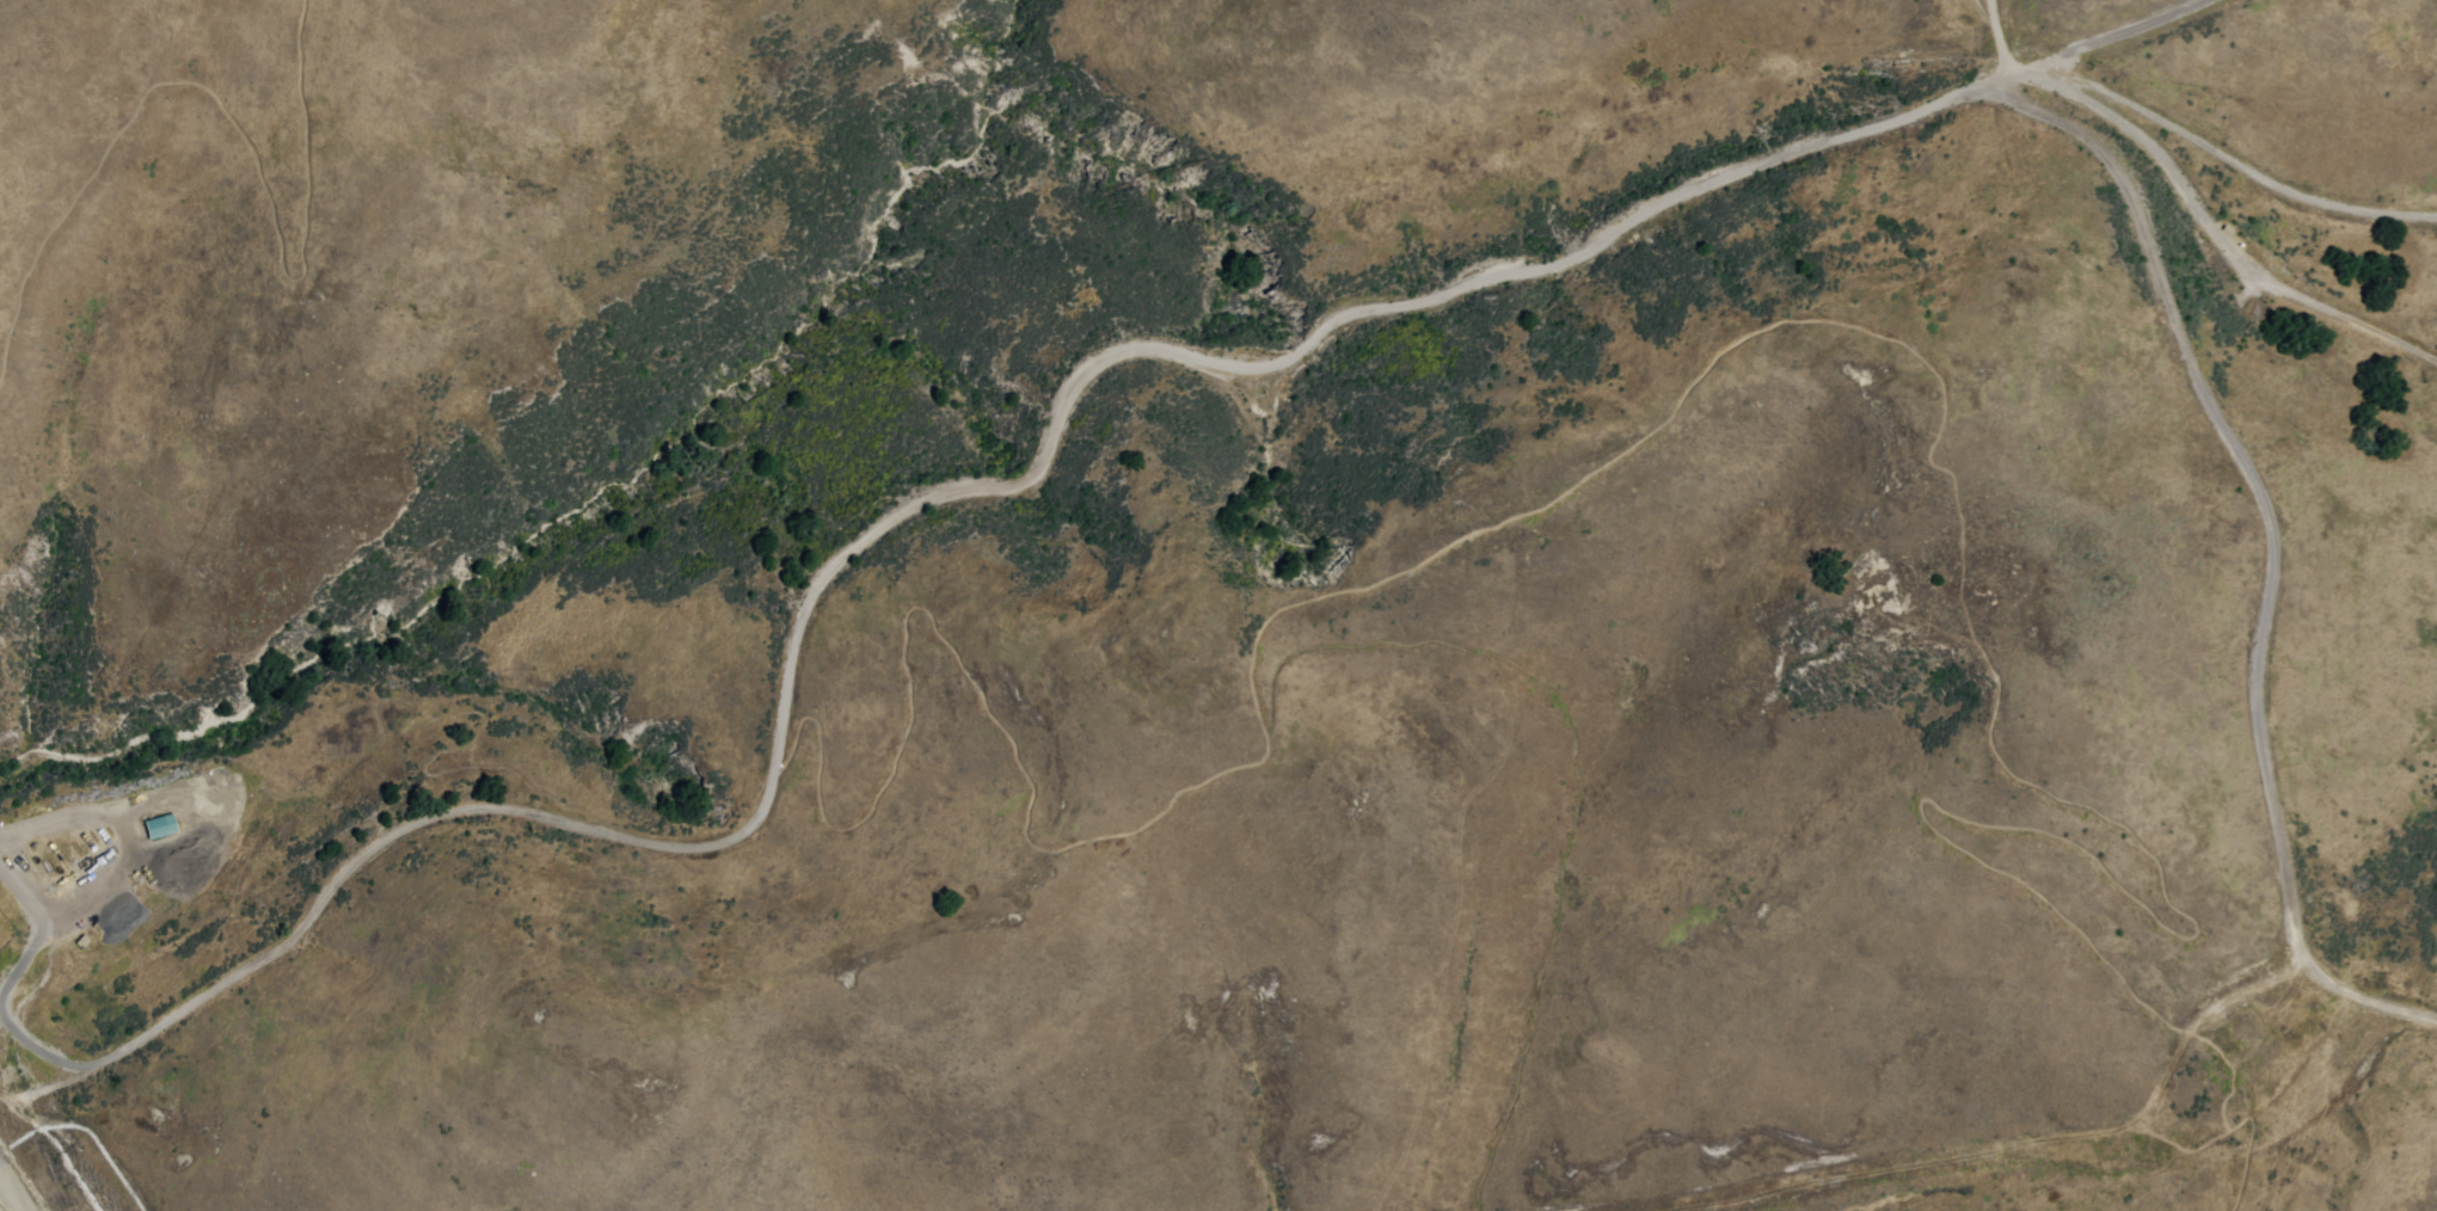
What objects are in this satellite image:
road: (2106, 42)
road: (2246, 173)
road: (2218, 233)
road: (1165, 349)
road: (2261, 499)
building: (159, 825)
road: (297, 930)
road: (2, 1198)

